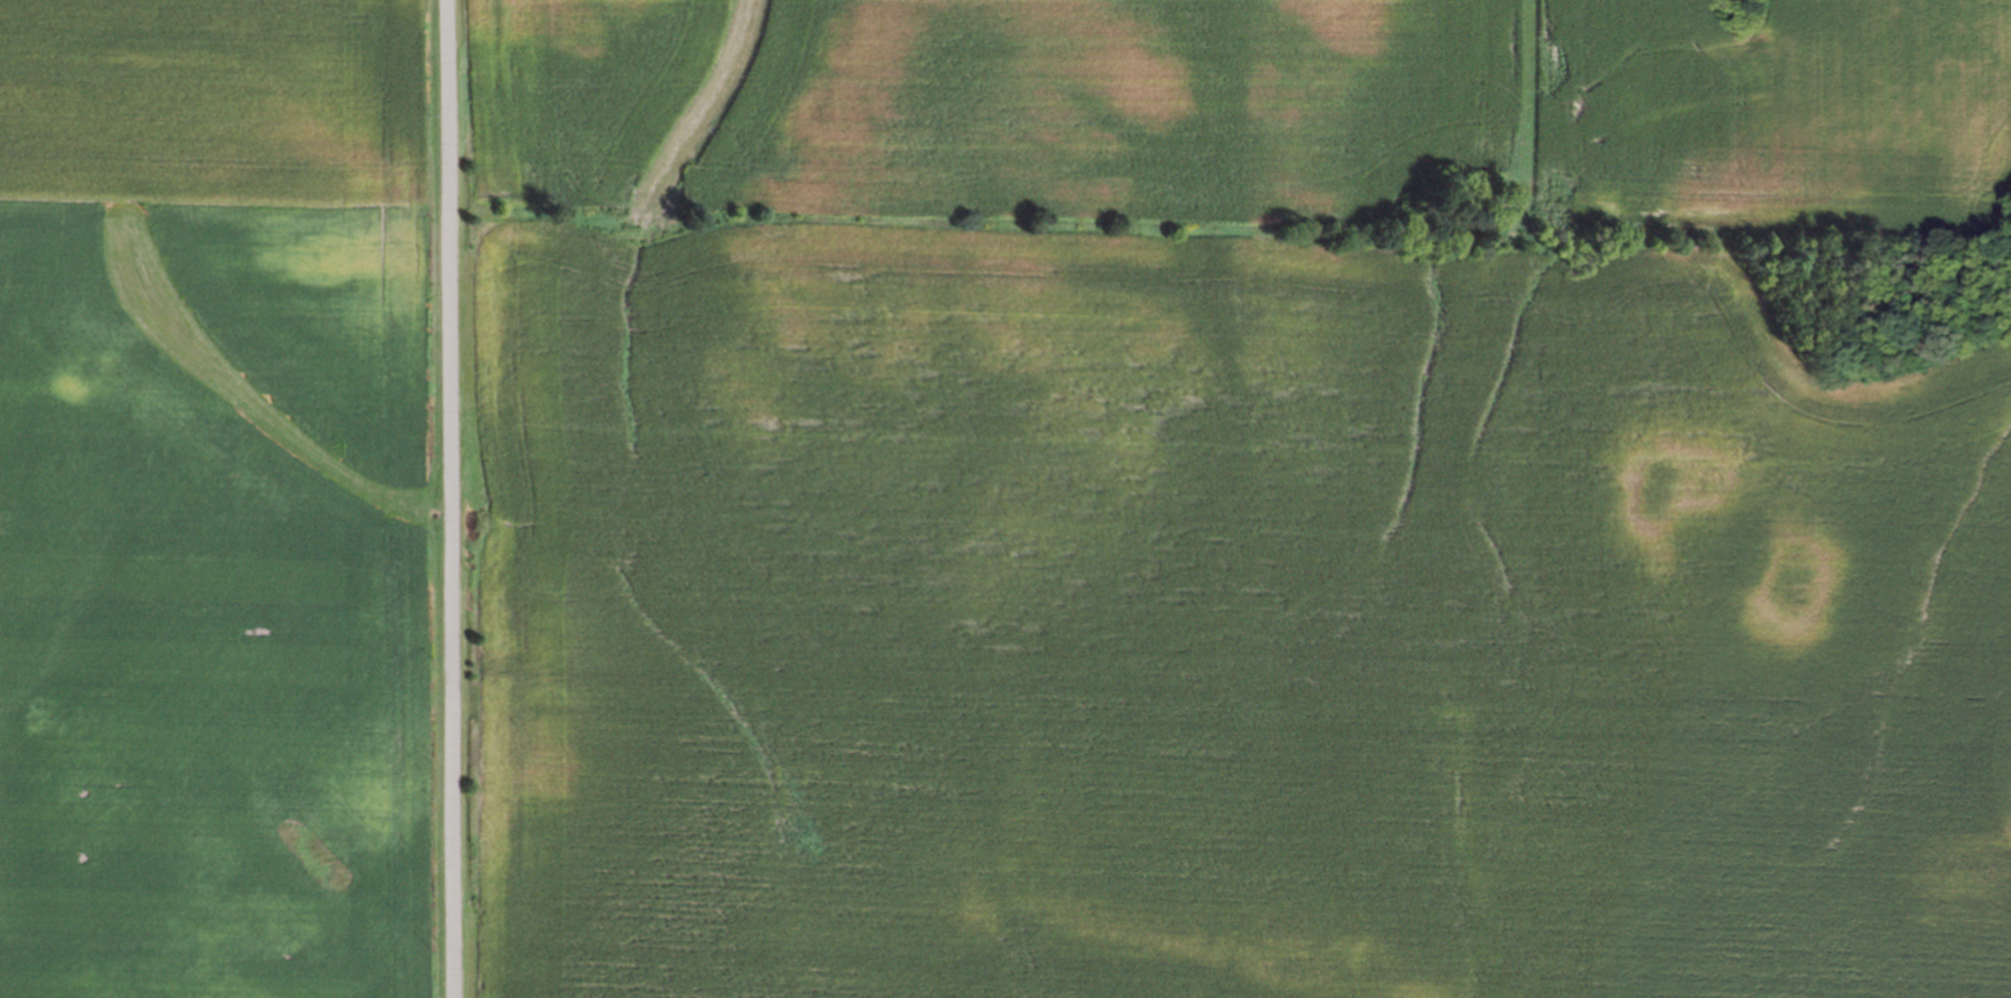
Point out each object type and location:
road: (445, 499)

